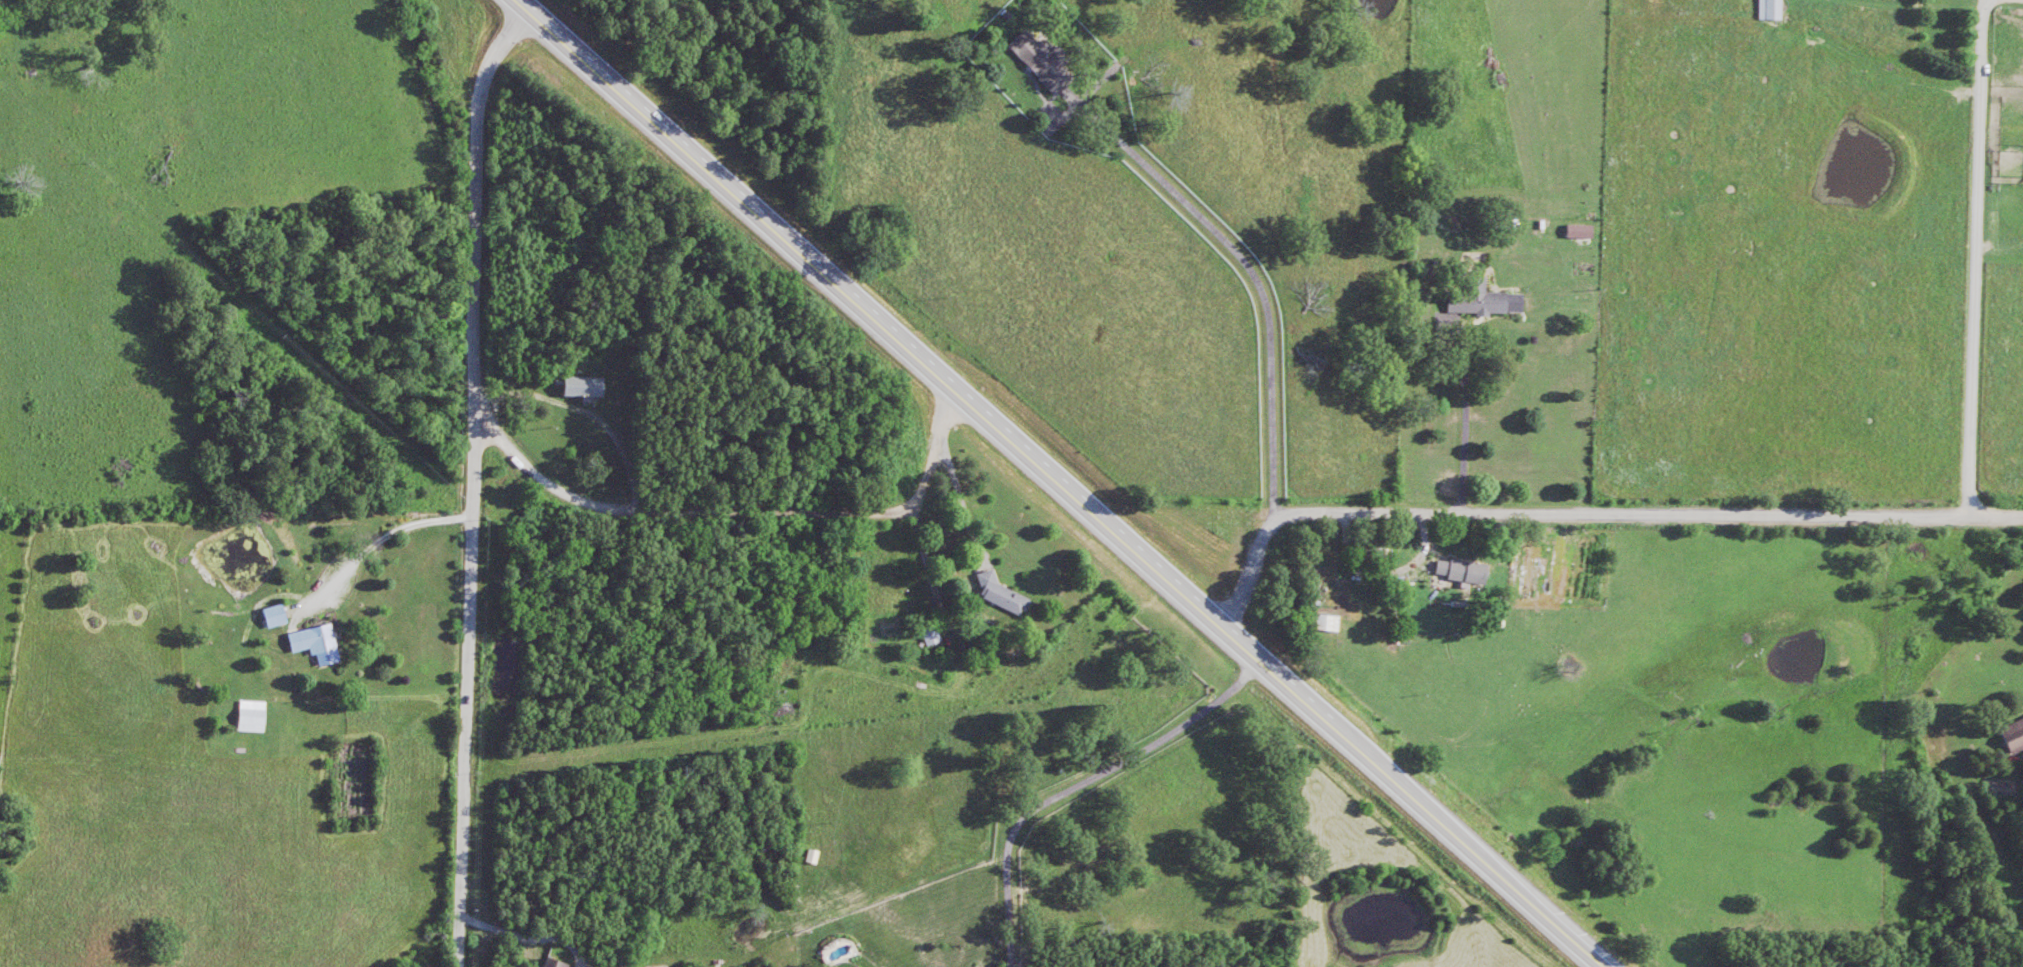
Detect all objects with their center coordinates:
building: (1768, 11)
building: (1040, 65)
road: (1973, 254)
road: (1149, 279)
building: (1487, 304)
building: (583, 390)
road: (471, 479)
road: (1064, 483)
road: (736, 507)
road: (1475, 511)
road: (1249, 570)
building: (1461, 574)
building: (1000, 597)
building: (274, 619)
building: (1326, 626)
building: (928, 634)
building: (316, 646)
building: (251, 720)
building: (552, 964)

